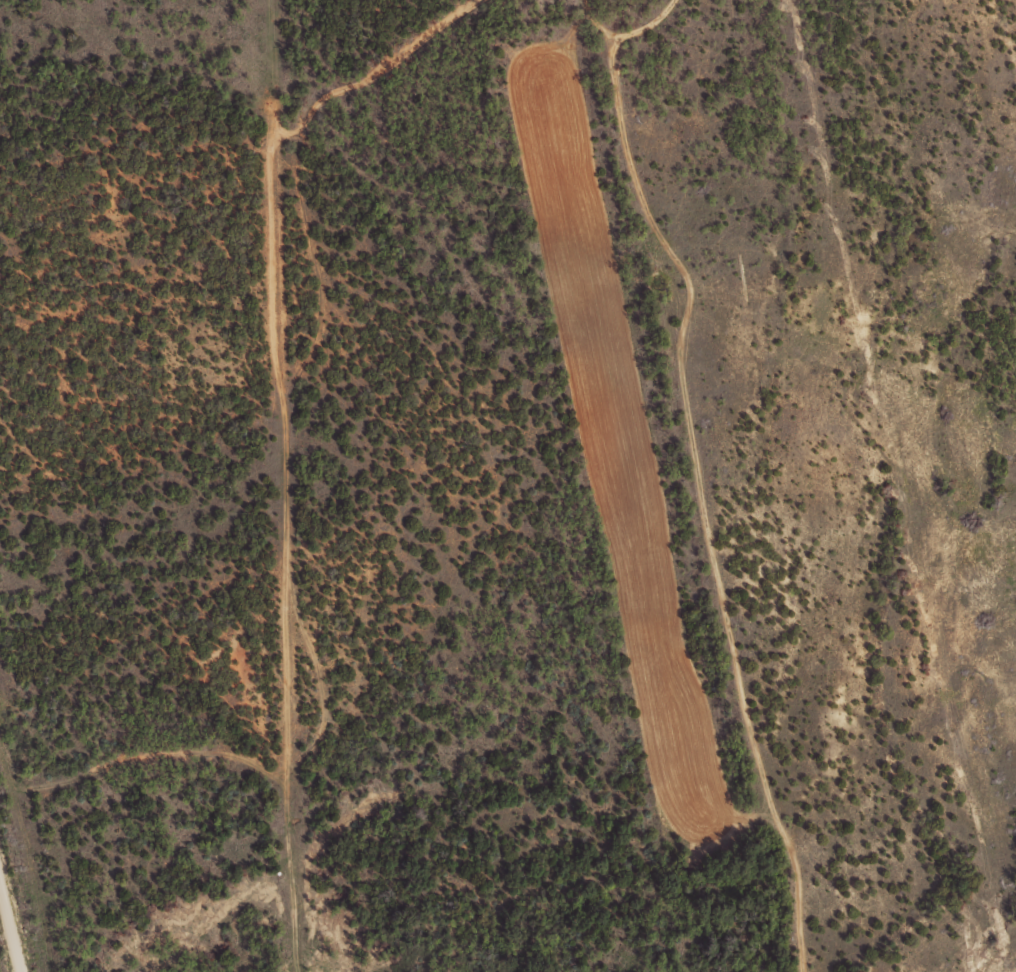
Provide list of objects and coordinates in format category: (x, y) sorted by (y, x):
road: (696, 467)

